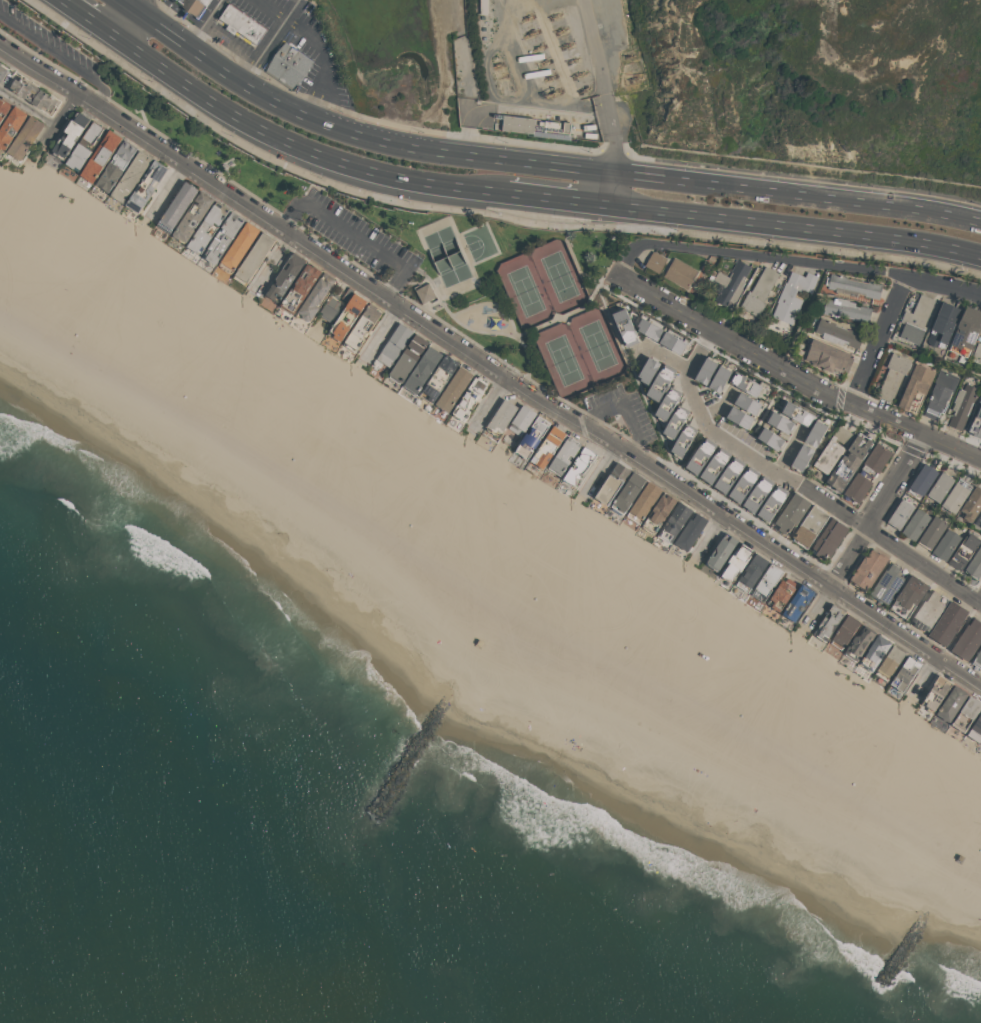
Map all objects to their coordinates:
road: (130, 5)
road: (141, 5)
building: (195, 6)
parking lot: (259, 9)
road: (271, 9)
road: (162, 11)
petroleum well: (555, 15)
petroleum well: (527, 16)
road: (146, 17)
road: (91, 19)
road: (205, 23)
building: (243, 23)
road: (128, 24)
petroleum well: (559, 30)
petroleum well: (534, 32)
parking lot: (231, 37)
road: (270, 41)
parking lot: (48, 42)
petroleum well: (539, 44)
petroleum well: (565, 45)
road: (510, 52)
petroleum well: (626, 54)
road: (57, 55)
road: (256, 55)
road: (325, 60)
petroleum well: (572, 61)
petroleum well: (545, 62)
petroleum well: (498, 64)
building: (290, 65)
road: (486, 69)
building: (2, 71)
petroleum well: (577, 74)
road: (72, 75)
petroleum well: (502, 75)
petroleum well: (549, 75)
petroleum well: (634, 77)
road: (603, 84)
petroleum well: (508, 88)
petroleum well: (583, 91)
petroleum well: (555, 92)
building: (33, 94)
road: (519, 104)
road: (29, 107)
building: (3, 108)
road: (62, 119)
building: (517, 123)
building: (11, 126)
building: (70, 135)
building: (25, 137)
road: (370, 138)
building: (85, 145)
road: (300, 146)
building: (100, 156)
building: (116, 165)
road: (226, 172)
building: (131, 176)
building: (146, 185)
road: (613, 187)
road: (170, 191)
road: (798, 193)
road: (559, 198)
building: (177, 205)
road: (479, 212)
road: (281, 213)
building: (193, 216)
road: (453, 224)
building: (208, 226)
road: (796, 227)
road: (354, 234)
parking lot: (354, 236)
building: (223, 237)
road: (494, 237)
park: (480, 243)
building: (238, 247)
park: (426, 253)
building: (253, 258)
road: (792, 260)
building: (655, 261)
road: (276, 264)
building: (452, 268)
building: (680, 273)
park: (560, 275)
building: (285, 277)
building: (730, 284)
building: (852, 286)
building: (300, 288)
park: (525, 290)
building: (759, 291)
building: (426, 293)
building: (316, 296)
building: (792, 296)
road: (480, 303)
road: (442, 304)
building: (330, 308)
building: (846, 309)
road: (577, 310)
building: (347, 317)
building: (916, 319)
road: (550, 321)
road: (546, 324)
building: (624, 325)
building: (942, 325)
building: (362, 327)
building: (649, 328)
building: (966, 331)
road: (384, 333)
building: (837, 333)
road: (879, 341)
building: (673, 342)
building: (395, 344)
park: (598, 344)
road: (479, 346)
building: (977, 352)
building: (828, 356)
building: (408, 358)
park: (564, 359)
road: (489, 367)
building: (706, 369)
building: (422, 370)
building: (648, 371)
road: (792, 374)
building: (893, 375)
building: (720, 377)
building: (439, 378)
building: (660, 382)
building: (746, 384)
building: (916, 388)
building: (454, 389)
building: (940, 393)
building: (469, 398)
building: (667, 403)
building: (748, 403)
road: (491, 406)
building: (962, 406)
road: (626, 409)
parking lot: (624, 412)
building: (797, 413)
building: (501, 417)
building: (740, 417)
building: (522, 419)
building: (780, 421)
building: (976, 421)
building: (675, 422)
building: (816, 432)
building: (770, 438)
building: (683, 440)
building: (547, 446)
building: (833, 449)
building: (564, 455)
building: (700, 456)
building: (801, 457)
building: (849, 461)
building: (579, 465)
building: (715, 465)
building: (867, 472)
road: (599, 475)
building: (729, 475)
building: (922, 479)
building: (612, 483)
building: (743, 484)
road: (800, 484)
building: (940, 486)
building: (628, 492)
building: (757, 494)
building: (955, 497)
building: (643, 503)
building: (772, 503)
building: (972, 504)
building: (791, 512)
building: (659, 513)
building: (900, 514)
building: (978, 519)
building: (674, 522)
building: (915, 524)
building: (809, 526)
building: (690, 531)
building: (932, 532)
road: (865, 533)
building: (829, 538)
road: (712, 539)
building: (946, 544)
building: (964, 551)
building: (720, 552)
building: (737, 561)
building: (974, 564)
building: (868, 569)
building: (751, 572)
building: (766, 582)
building: (888, 583)
building: (781, 594)
building: (909, 596)
road: (979, 600)
building: (797, 602)
building: (929, 611)
building: (948, 622)
building: (828, 623)
building: (844, 631)
road: (959, 632)
building: (968, 639)
building: (859, 642)
building: (874, 652)
building: (977, 659)
building: (889, 663)
building: (905, 673)
road: (925, 678)
building: (935, 693)
building: (951, 703)
building: (966, 713)

